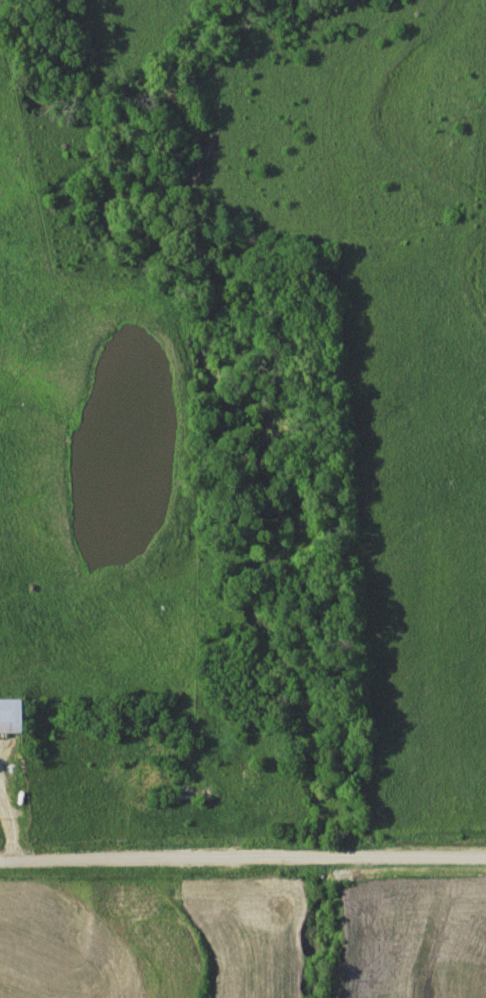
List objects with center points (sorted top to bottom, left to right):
building: (11, 716)
road: (242, 855)

